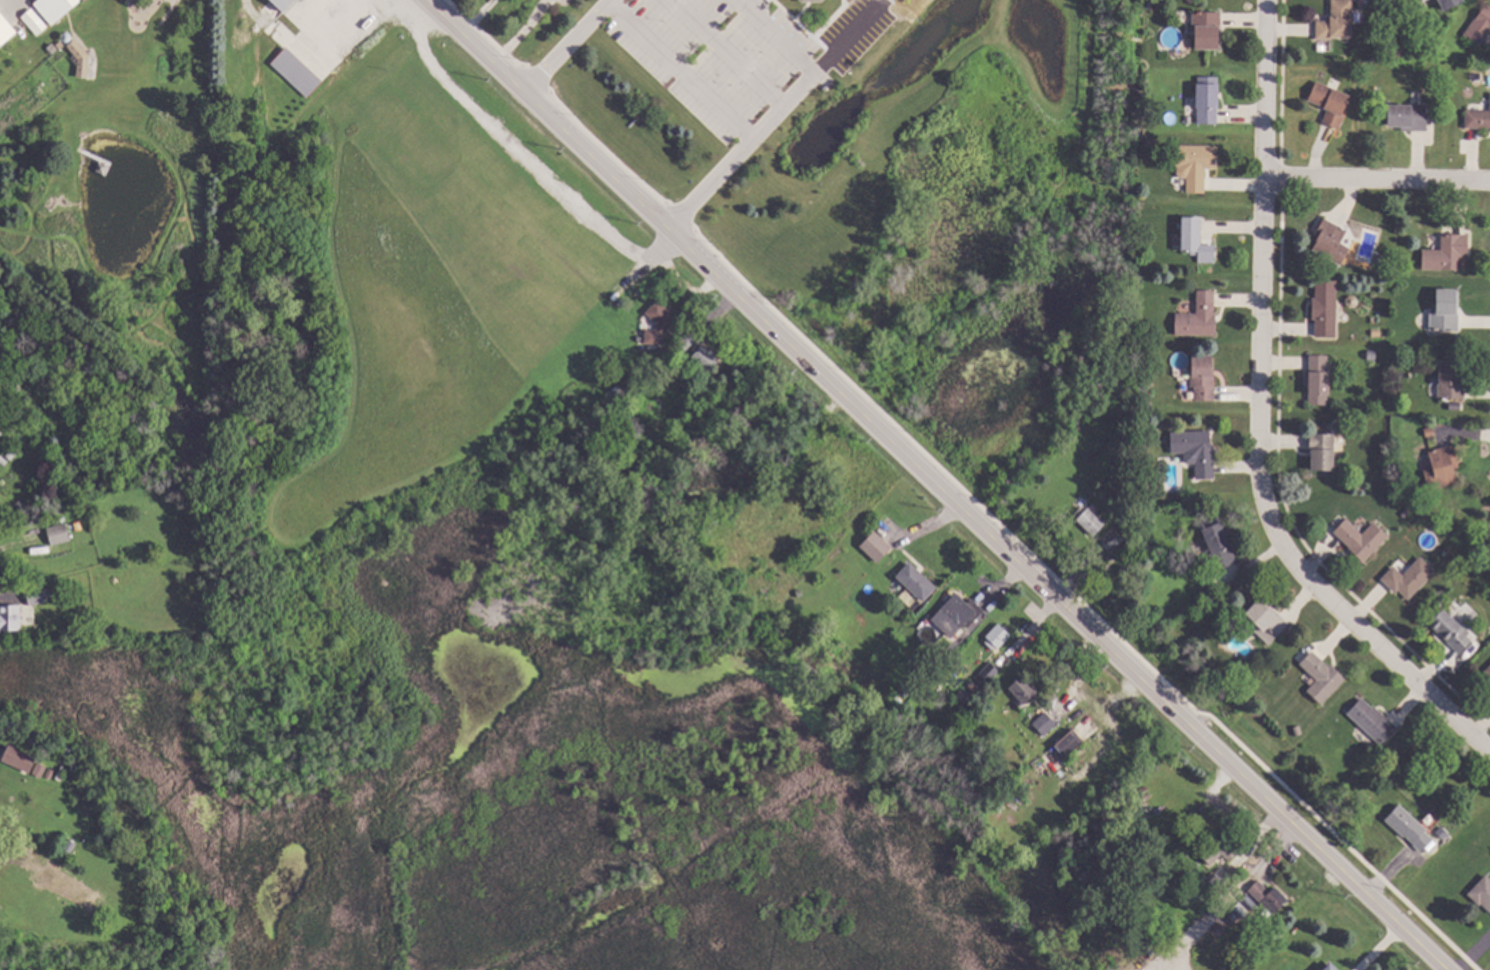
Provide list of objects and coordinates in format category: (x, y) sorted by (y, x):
building: (813, 0)
building: (1421, 0)
building: (1424, 0)
building: (360, 1)
road: (608, 2)
building: (1449, 3)
building: (283, 4)
building: (56, 8)
road: (475, 16)
building: (1337, 21)
building: (34, 22)
building: (1480, 26)
building: (1207, 29)
building: (6, 31)
road: (518, 31)
road: (773, 37)
road: (565, 48)
building: (76, 50)
road: (724, 53)
parking lot: (711, 55)
road: (818, 69)
road: (679, 71)
building: (296, 72)
building: (1208, 100)
building: (1330, 103)
building: (1408, 117)
building: (1477, 119)
building: (1152, 143)
building: (48, 145)
road: (521, 158)
building: (1199, 166)
building: (101, 169)
road: (1377, 181)
road: (708, 183)
building: (1196, 240)
building: (1331, 242)
building: (1143, 247)
building: (1447, 253)
building: (1401, 256)
building: (1379, 259)
building: (1351, 301)
building: (1325, 309)
building: (1445, 311)
building: (1199, 317)
building: (658, 322)
building: (1377, 333)
building: (686, 342)
building: (1372, 354)
building: (705, 359)
building: (1203, 377)
building: (1319, 381)
building: (1451, 381)
building: (1455, 406)
road: (1257, 422)
building: (60, 424)
building: (1196, 451)
building: (1322, 451)
building: (10, 454)
building: (3, 461)
building: (1442, 468)
road: (935, 486)
building: (34, 502)
building: (17, 508)
building: (1406, 512)
building: (1090, 520)
building: (1124, 522)
building: (59, 534)
building: (1114, 538)
building: (1361, 538)
building: (958, 545)
building: (1218, 545)
building: (872, 547)
building: (1447, 550)
building: (1488, 553)
building: (1408, 578)
building: (917, 582)
building: (1214, 587)
building: (62, 591)
building: (39, 594)
building: (957, 615)
building: (10, 617)
building: (1267, 621)
building: (1451, 631)
building: (998, 635)
building: (991, 671)
building: (1488, 671)
building: (1322, 678)
building: (973, 687)
building: (907, 688)
building: (1021, 690)
building: (962, 697)
building: (1373, 721)
building: (1045, 724)
building: (1298, 730)
building: (1069, 744)
building: (16, 757)
building: (39, 769)
building: (50, 774)
building: (1015, 794)
building: (1409, 827)
building: (1439, 832)
building: (53, 837)
building: (1220, 849)
building: (1218, 880)
building: (1482, 892)
road: (1227, 895)
building: (1268, 897)
building: (1329, 968)

